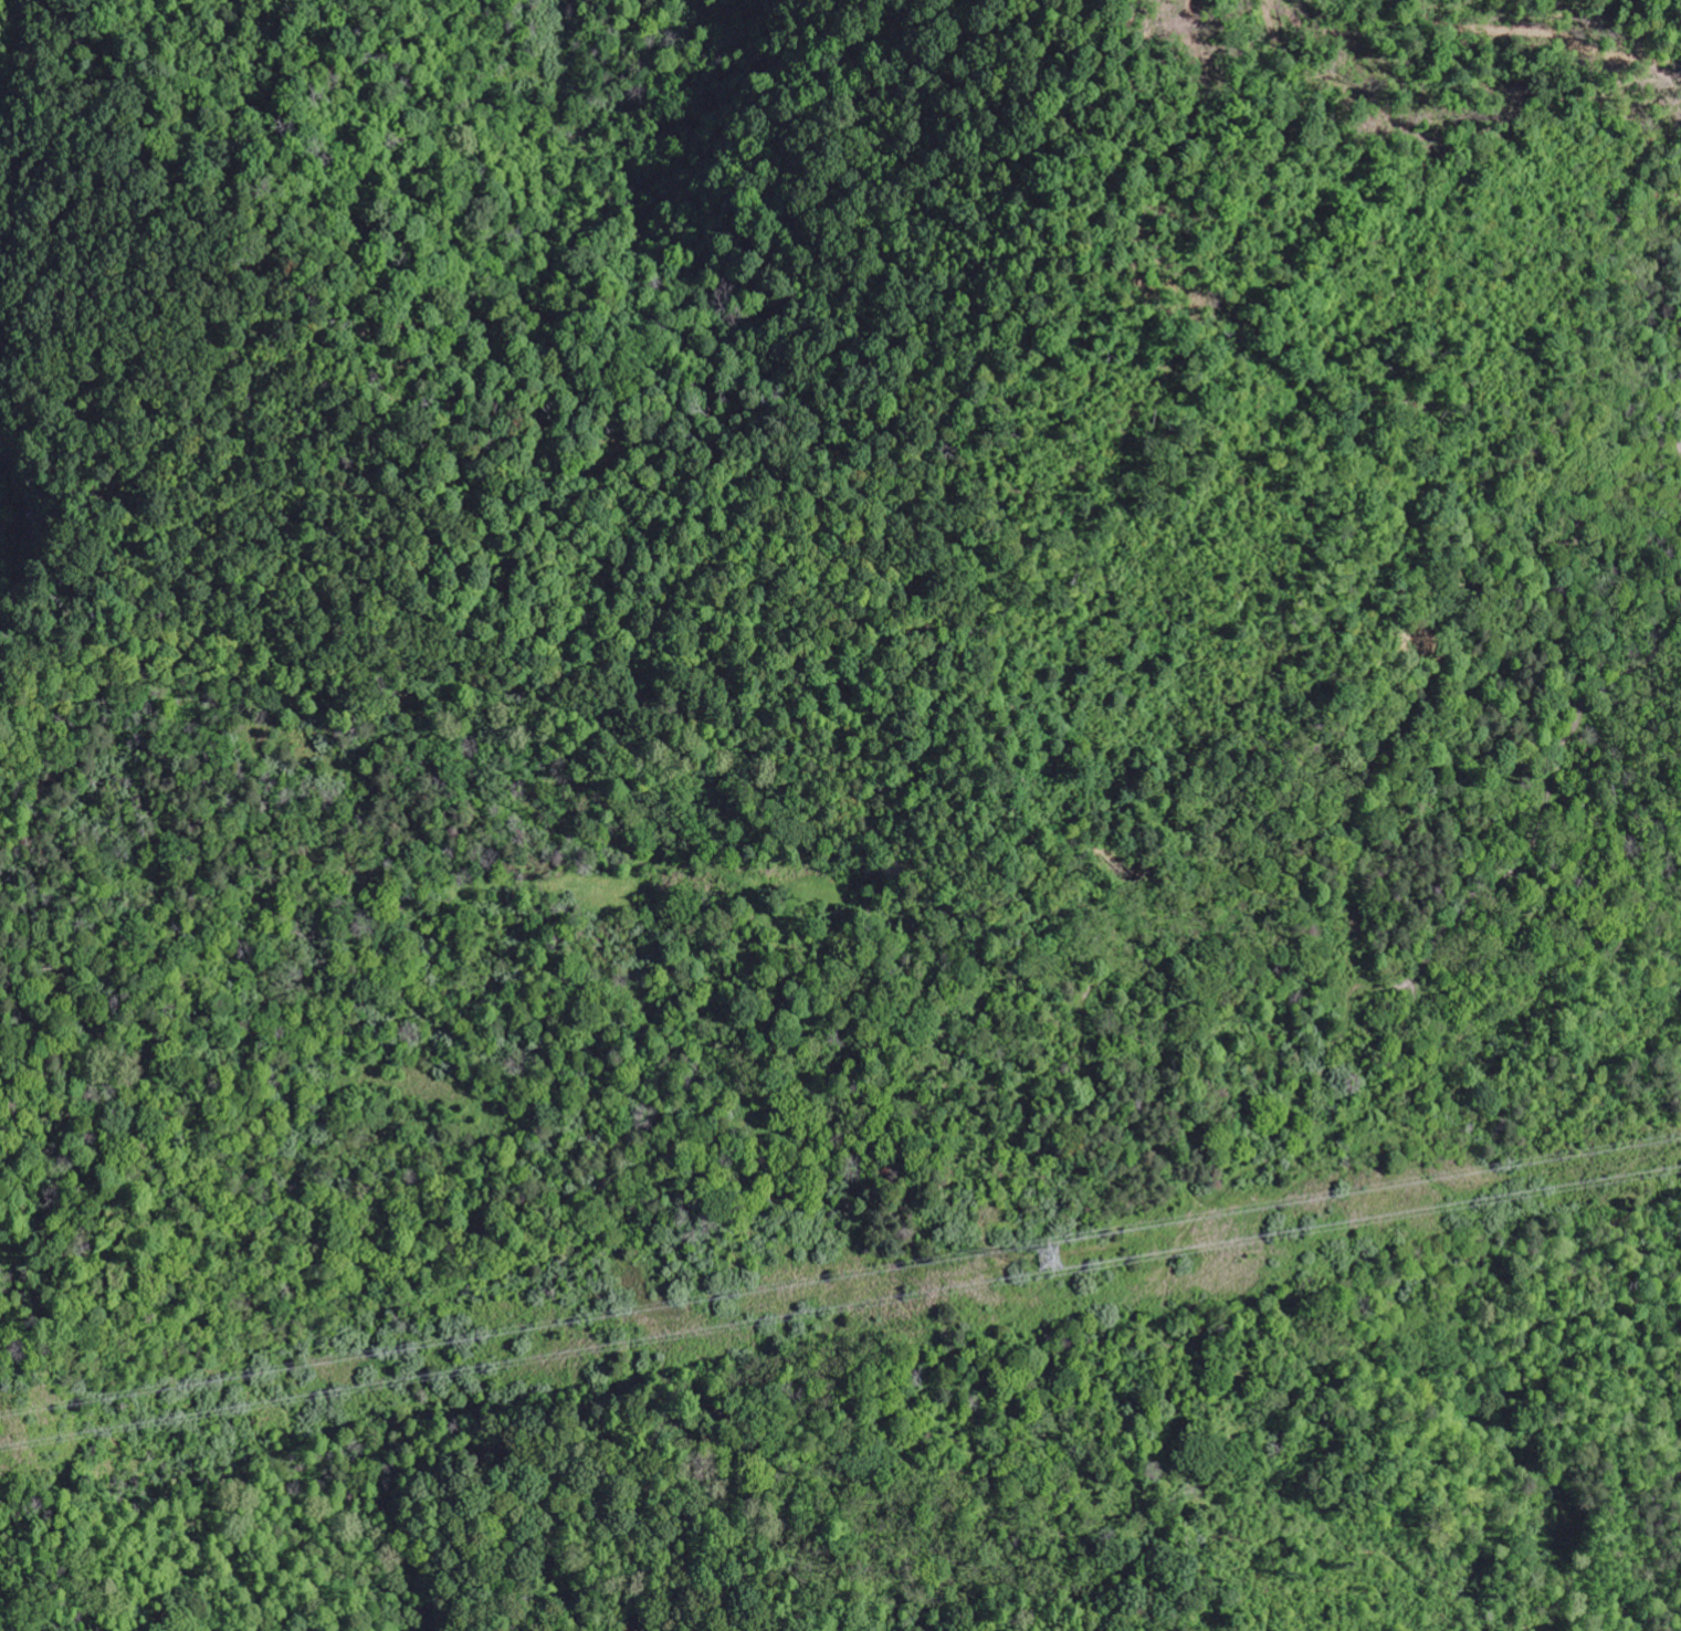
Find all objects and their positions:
power tower: (1052, 1256)

